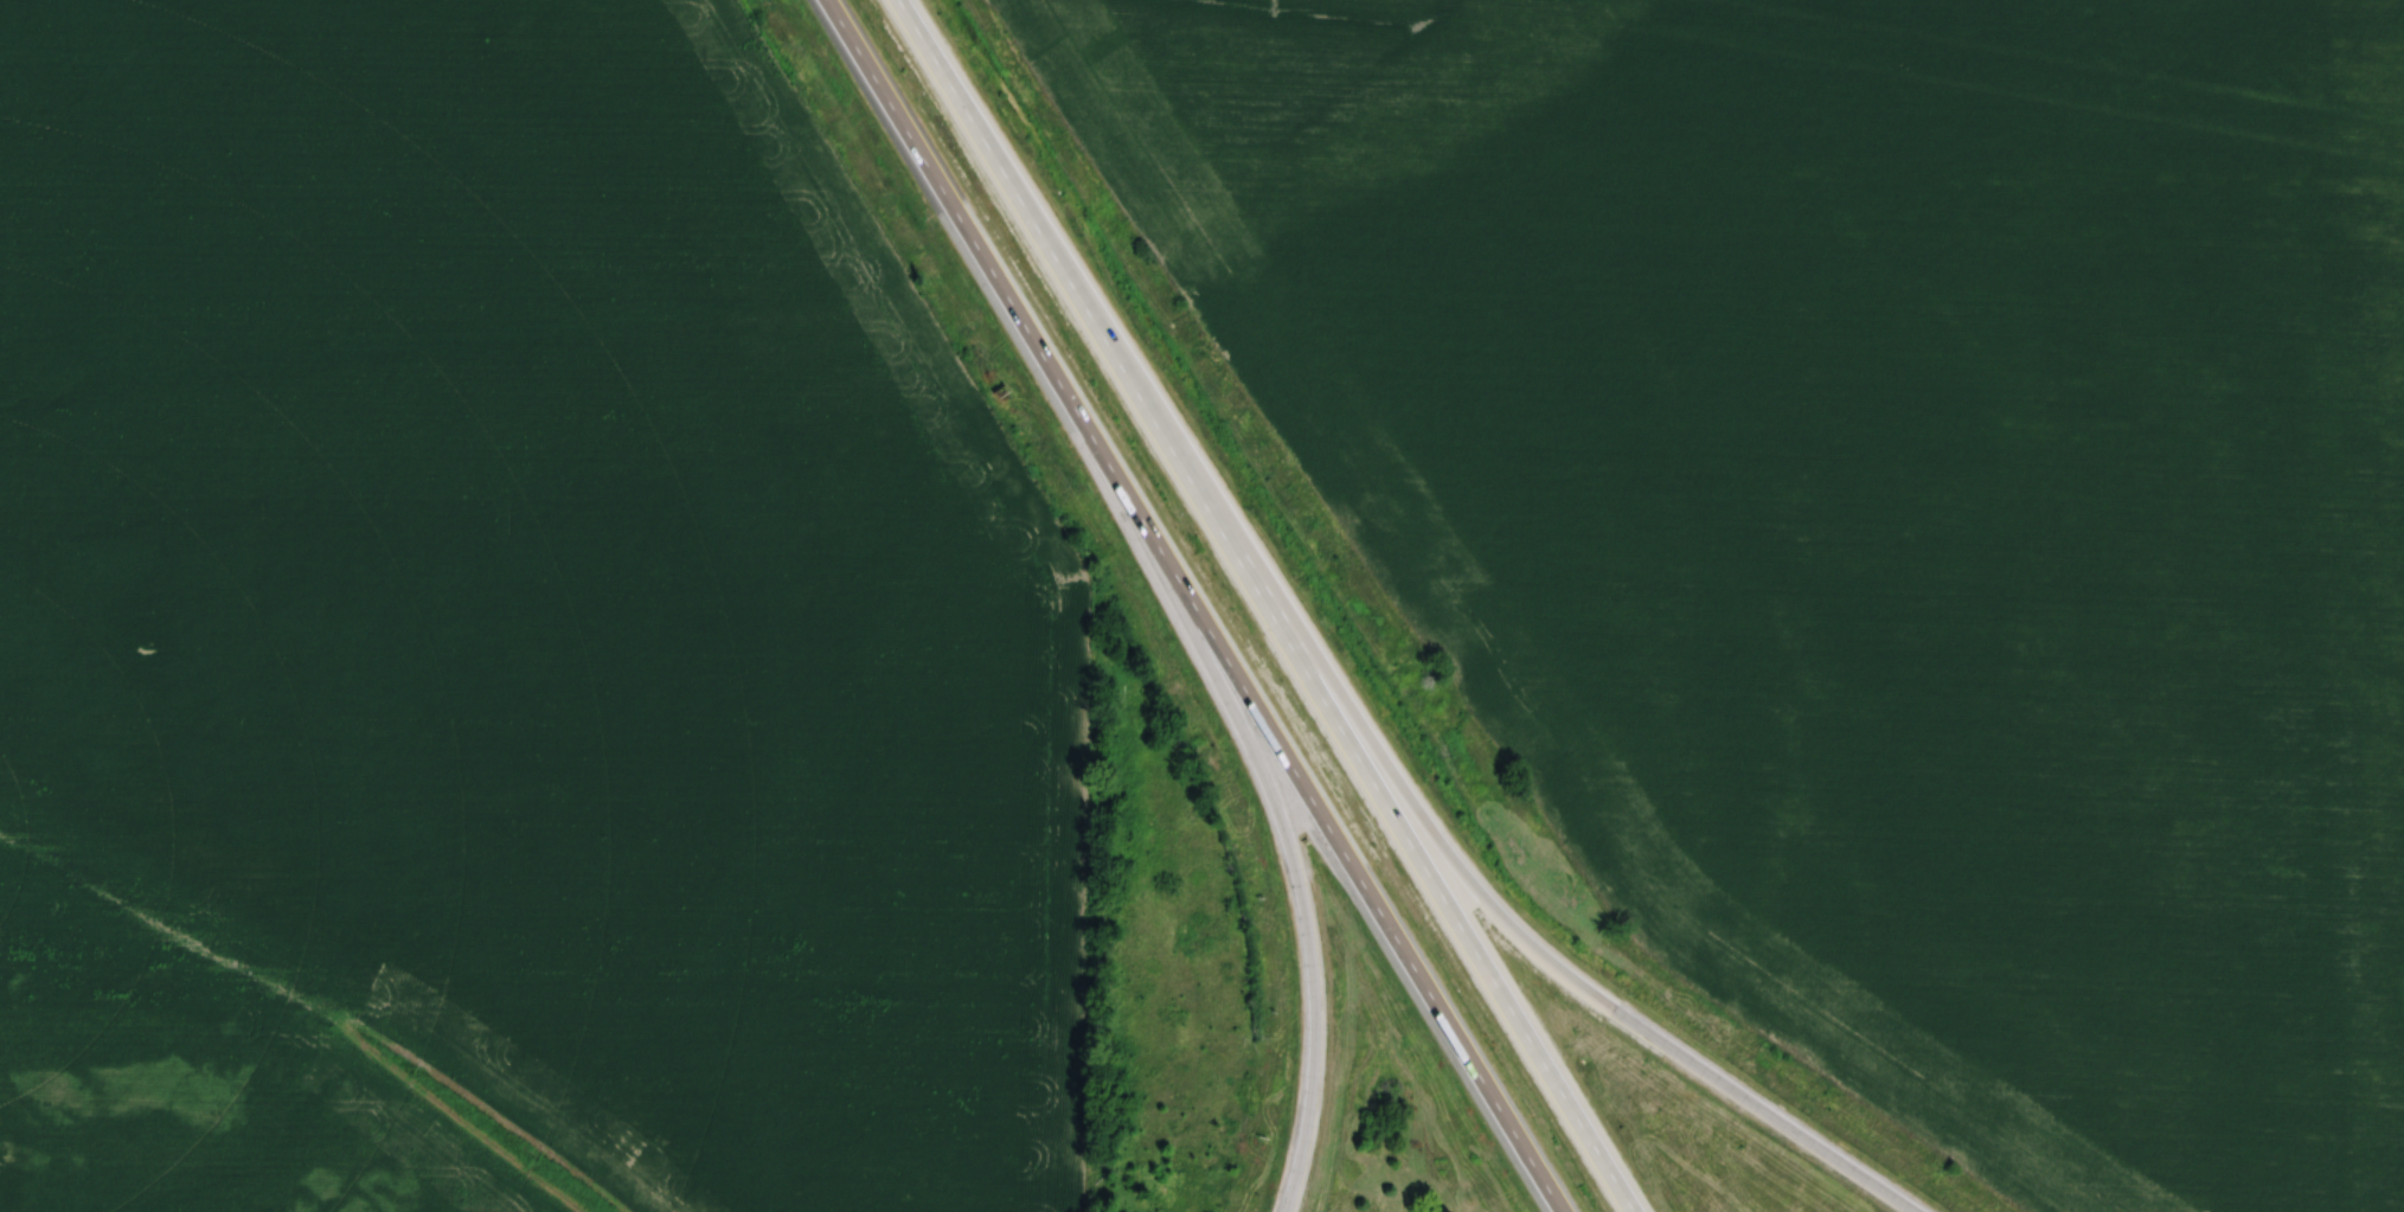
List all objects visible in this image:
road: (1268, 604)
road: (1187, 611)
road: (1304, 947)
road: (1558, 976)

